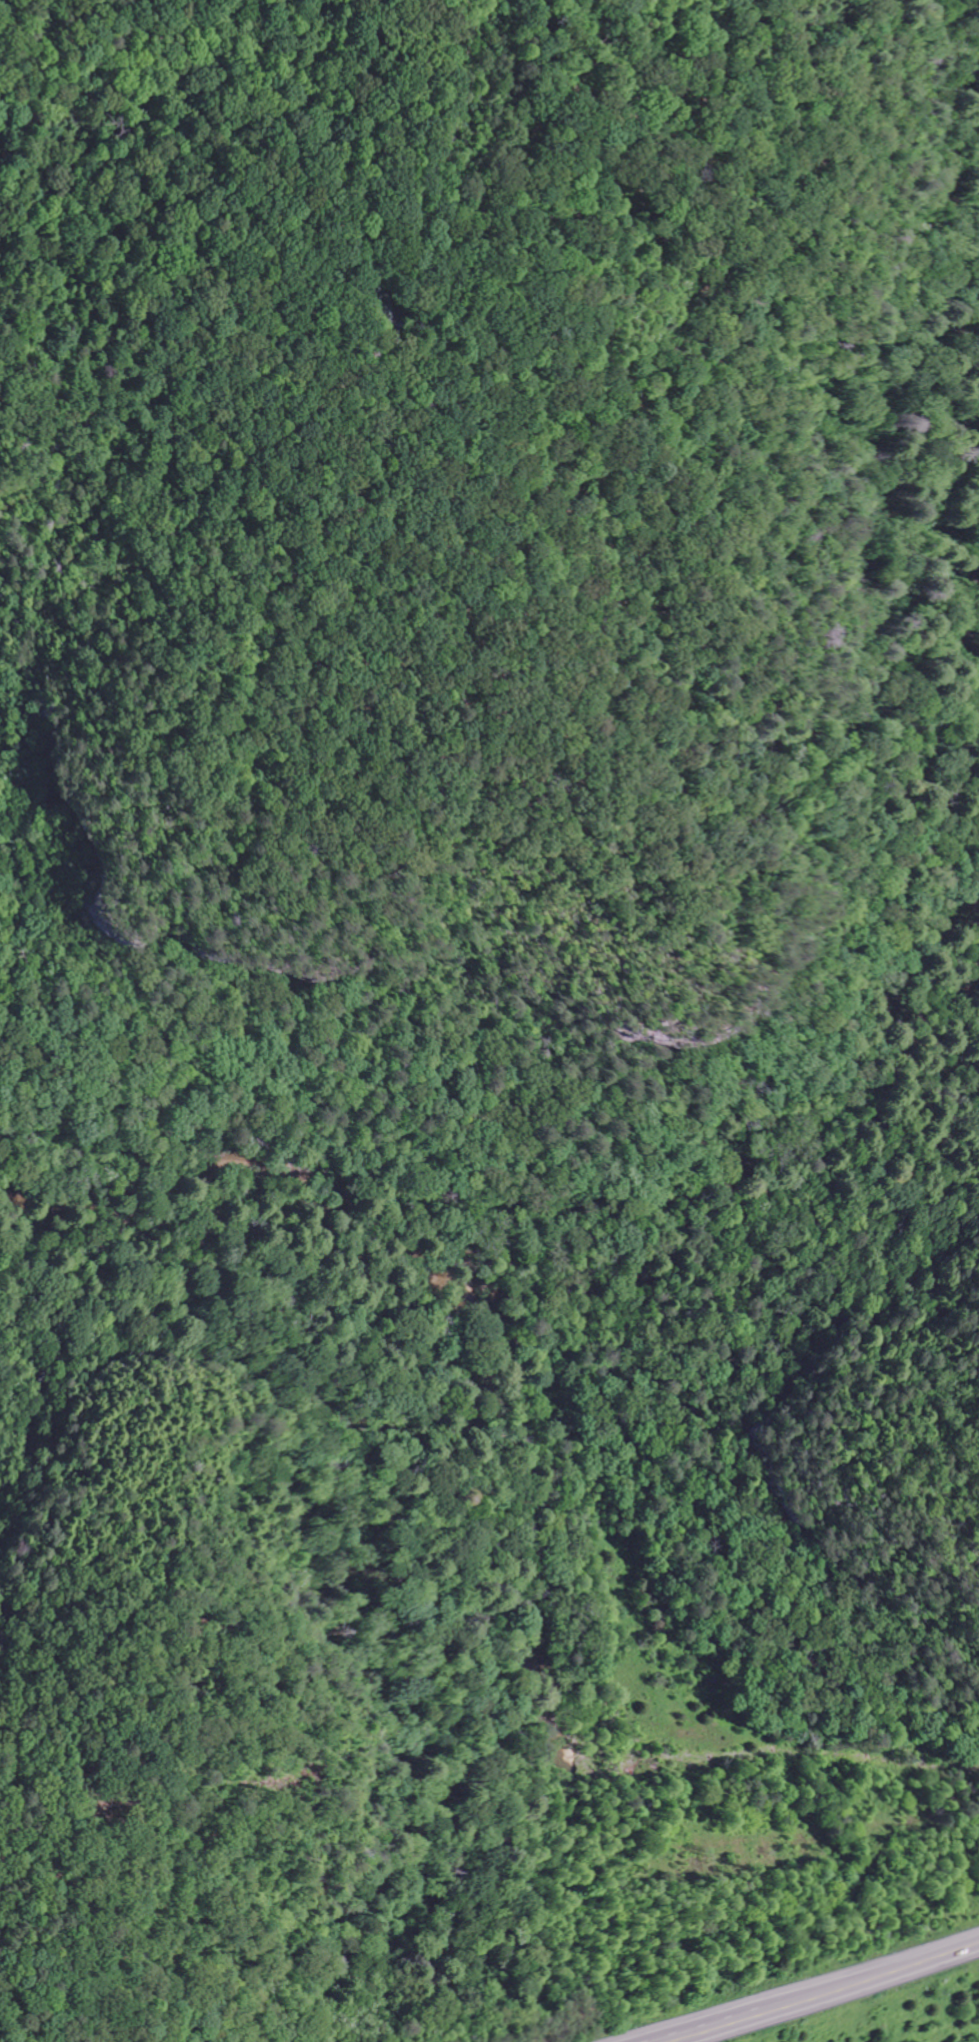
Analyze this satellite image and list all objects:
road: (826, 1992)

